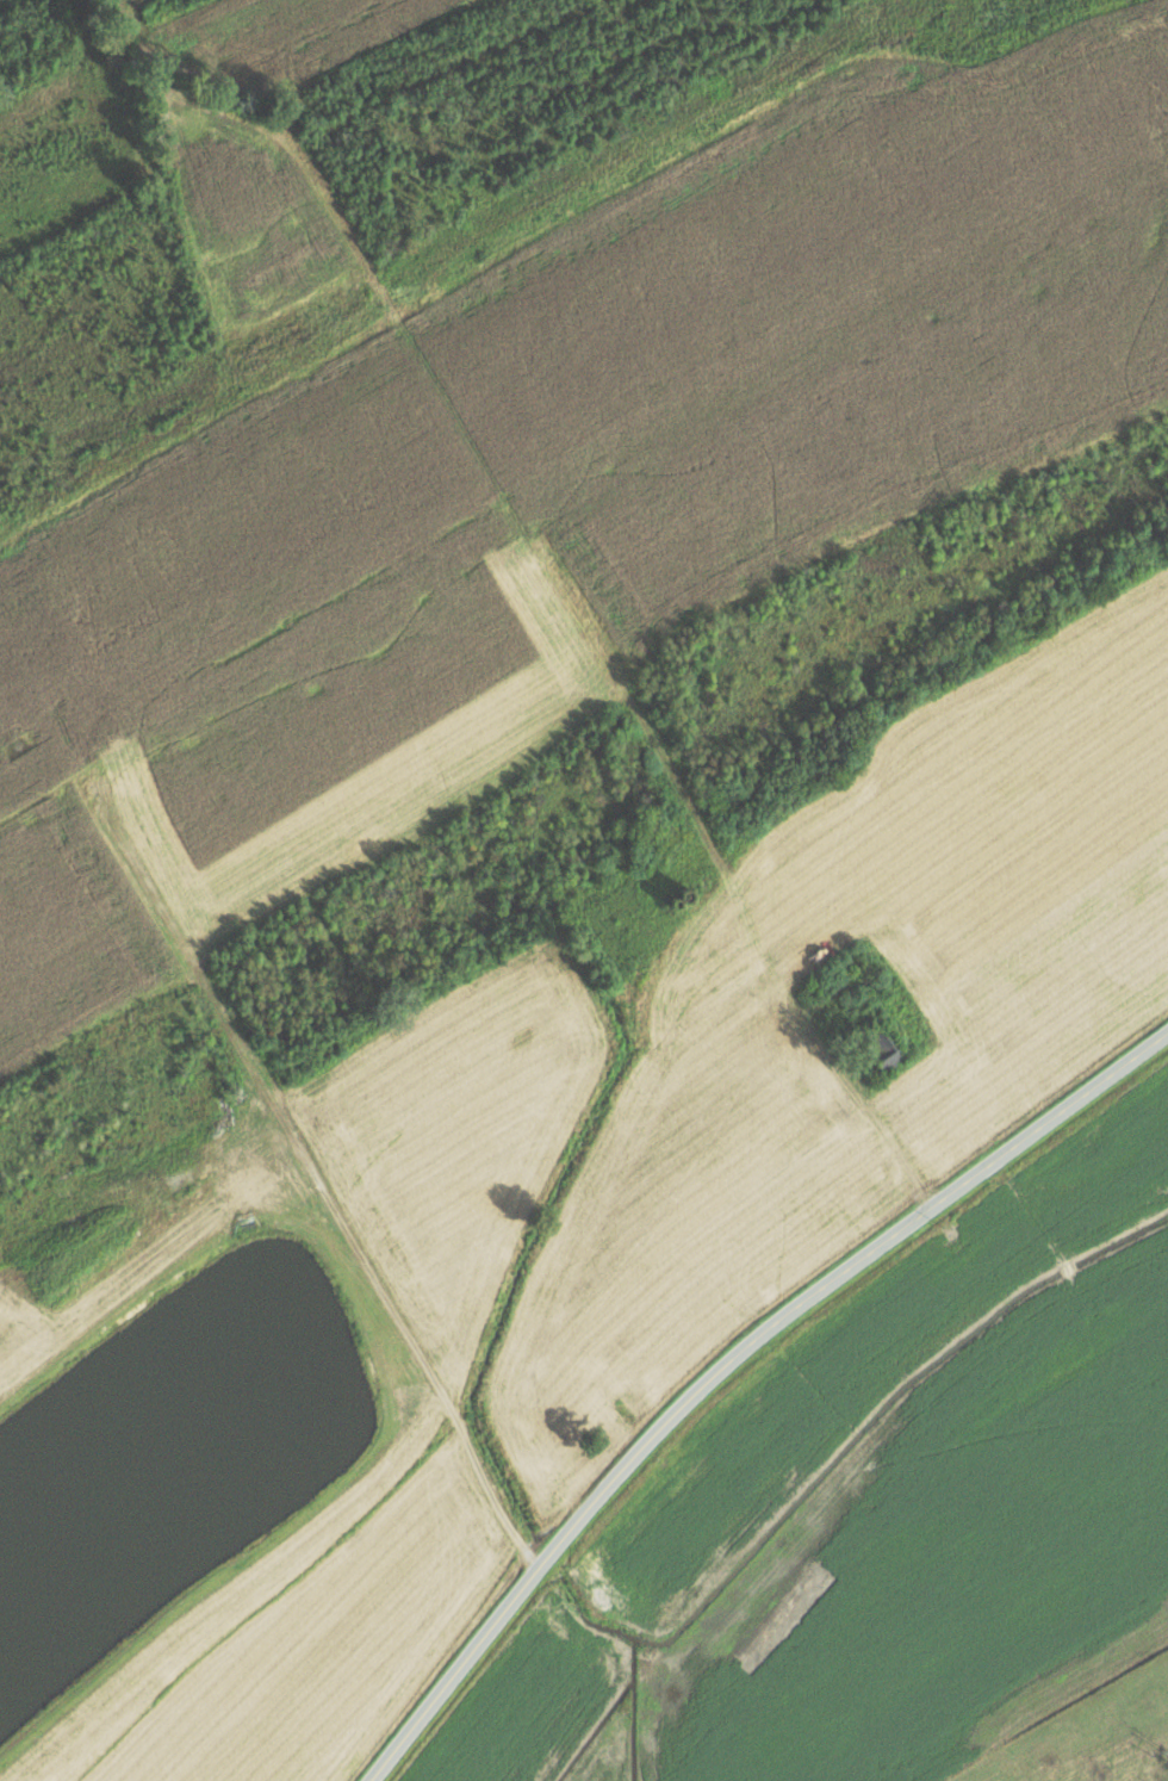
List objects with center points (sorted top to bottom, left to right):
road: (727, 1361)

